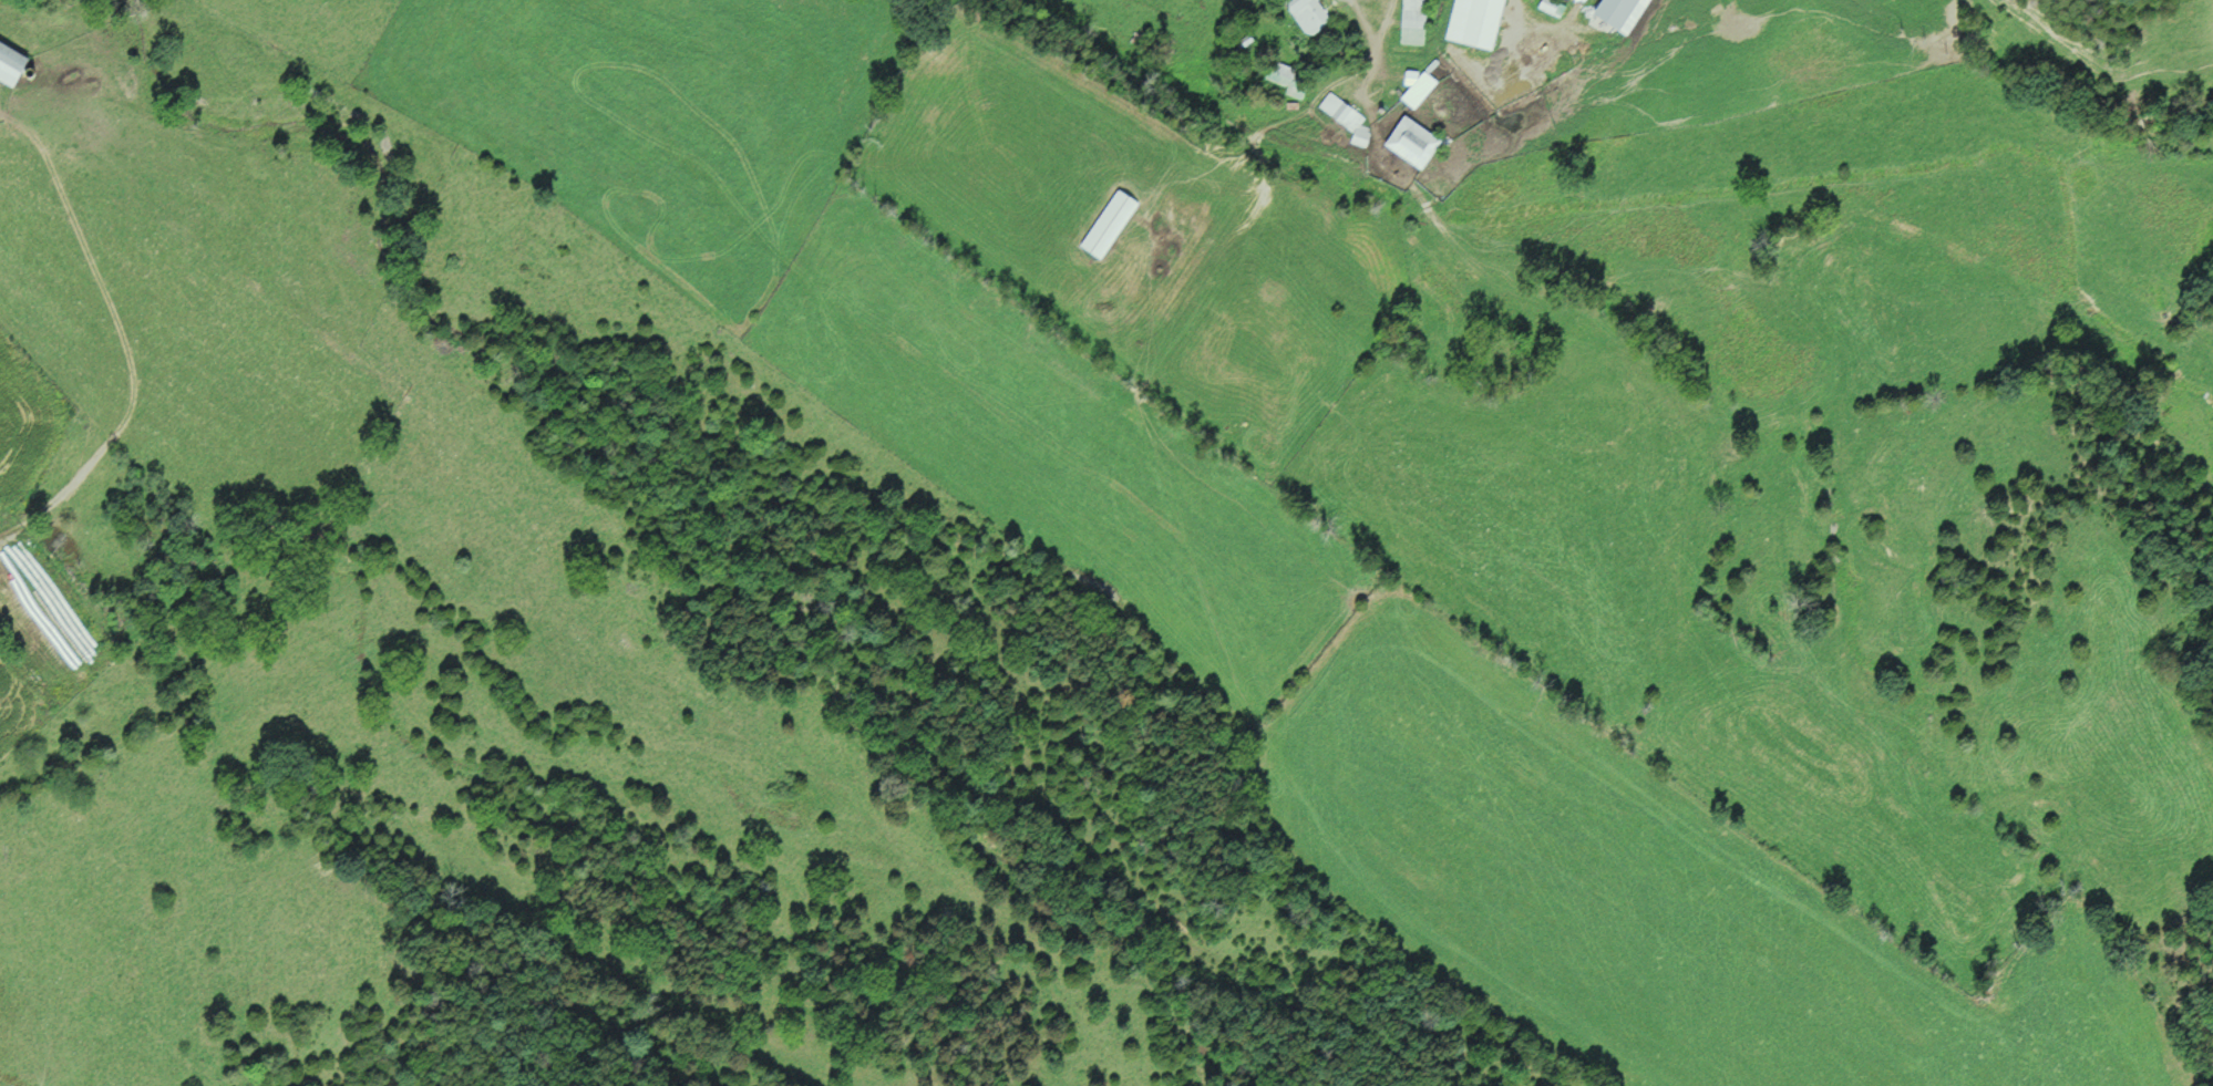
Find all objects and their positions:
building: (1624, 12)
building: (1307, 13)
building: (1416, 20)
building: (1478, 20)
road: (1377, 42)
building: (12, 63)
building: (1280, 72)
building: (1340, 111)
building: (1414, 142)
building: (1111, 224)
road: (121, 342)

